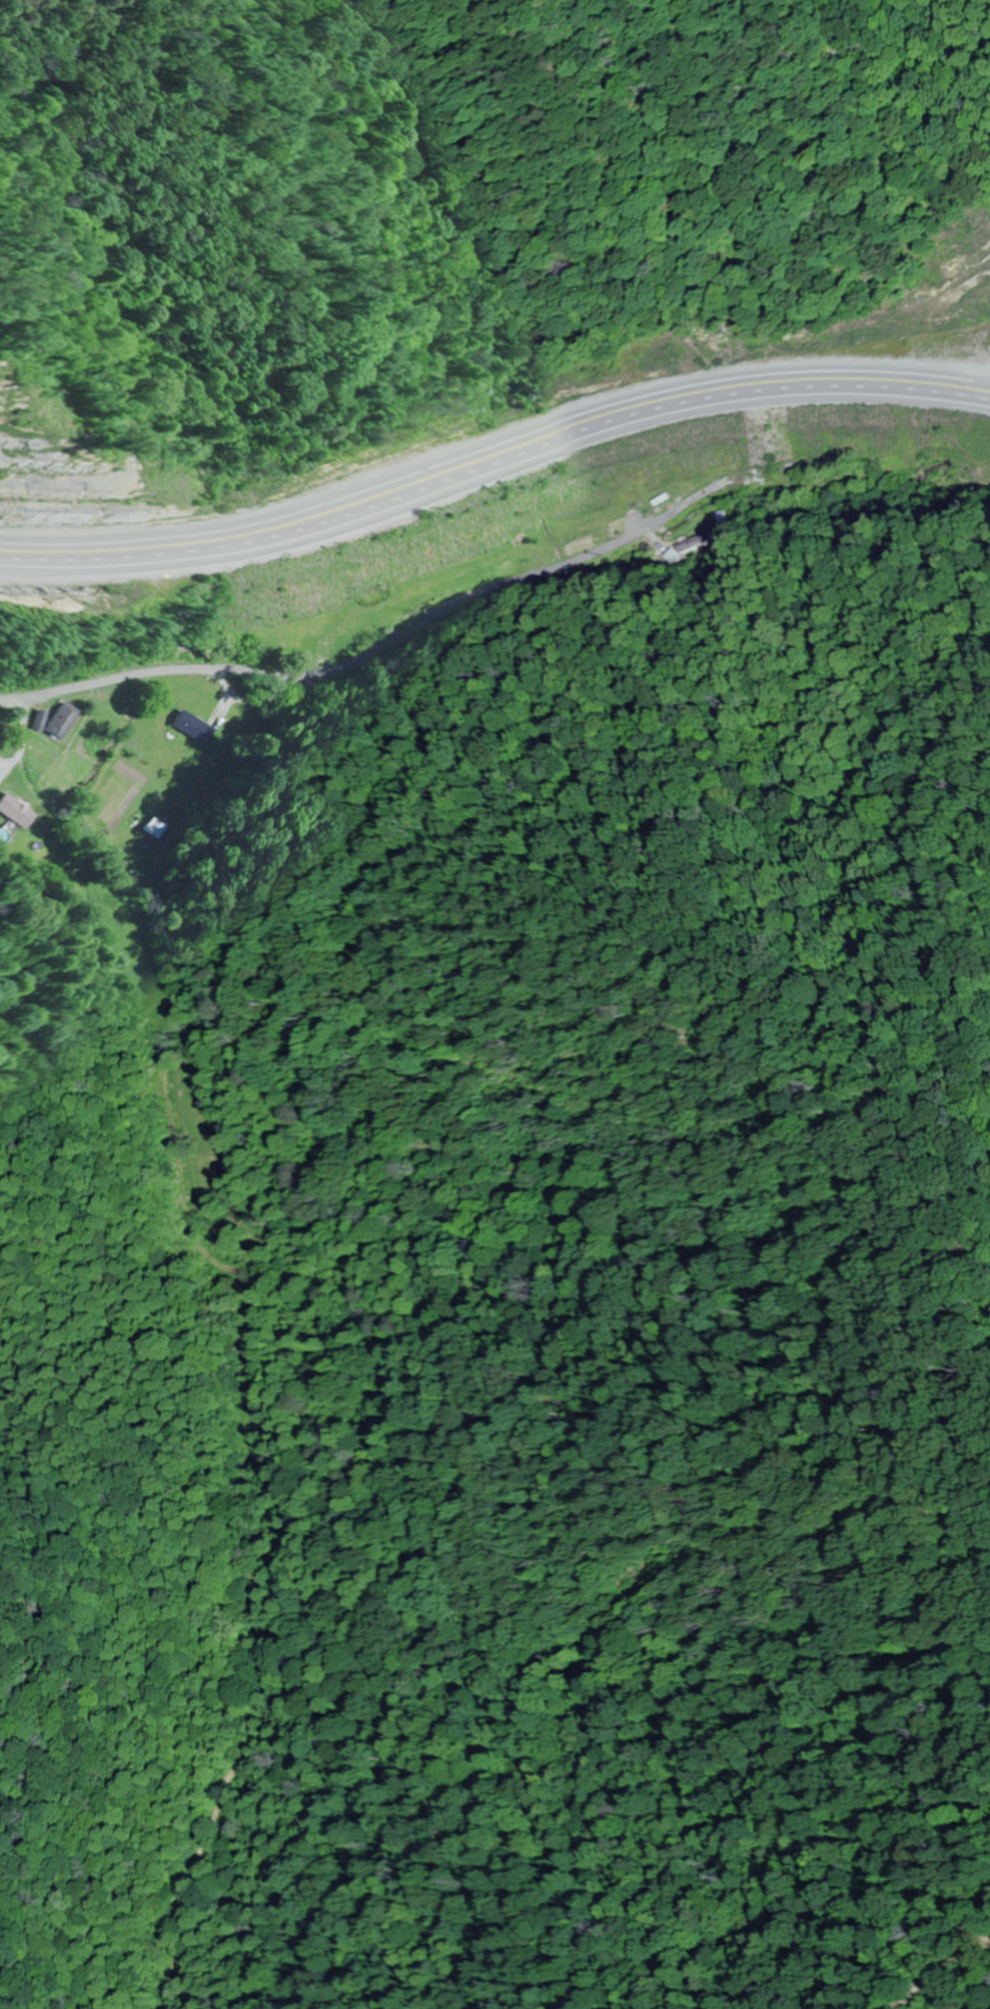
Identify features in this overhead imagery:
road: (491, 452)
building: (523, 491)
building: (258, 541)
building: (279, 620)
road: (123, 666)
building: (63, 720)
building: (191, 726)
building: (17, 812)
building: (153, 828)
road: (171, 1013)

